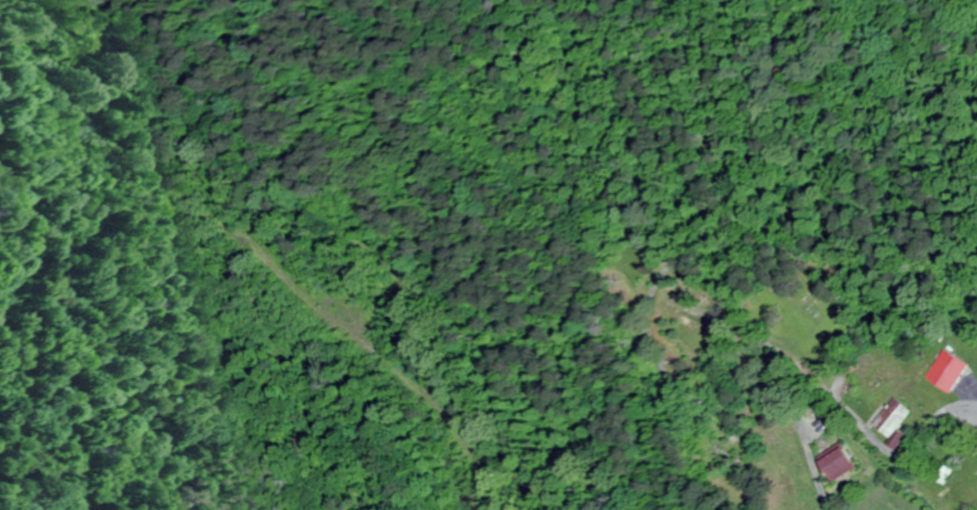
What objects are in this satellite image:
building: (952, 369)
building: (899, 420)
building: (845, 463)
road: (823, 481)

